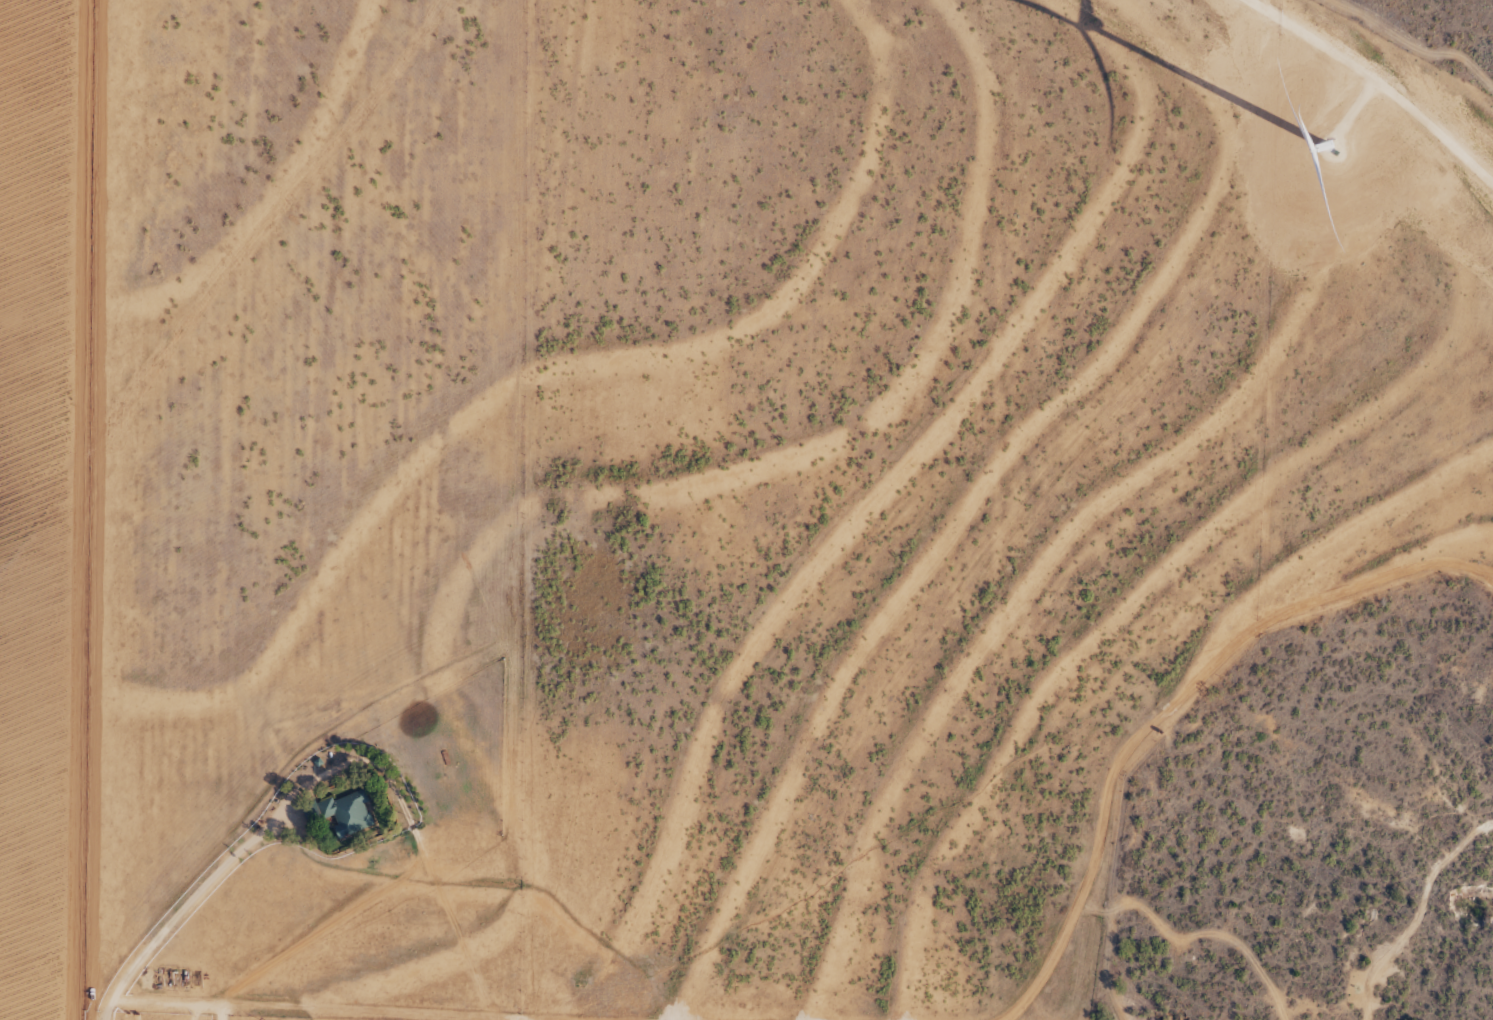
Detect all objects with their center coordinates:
wind turbine: (1325, 148)
building: (345, 813)
road: (169, 924)

